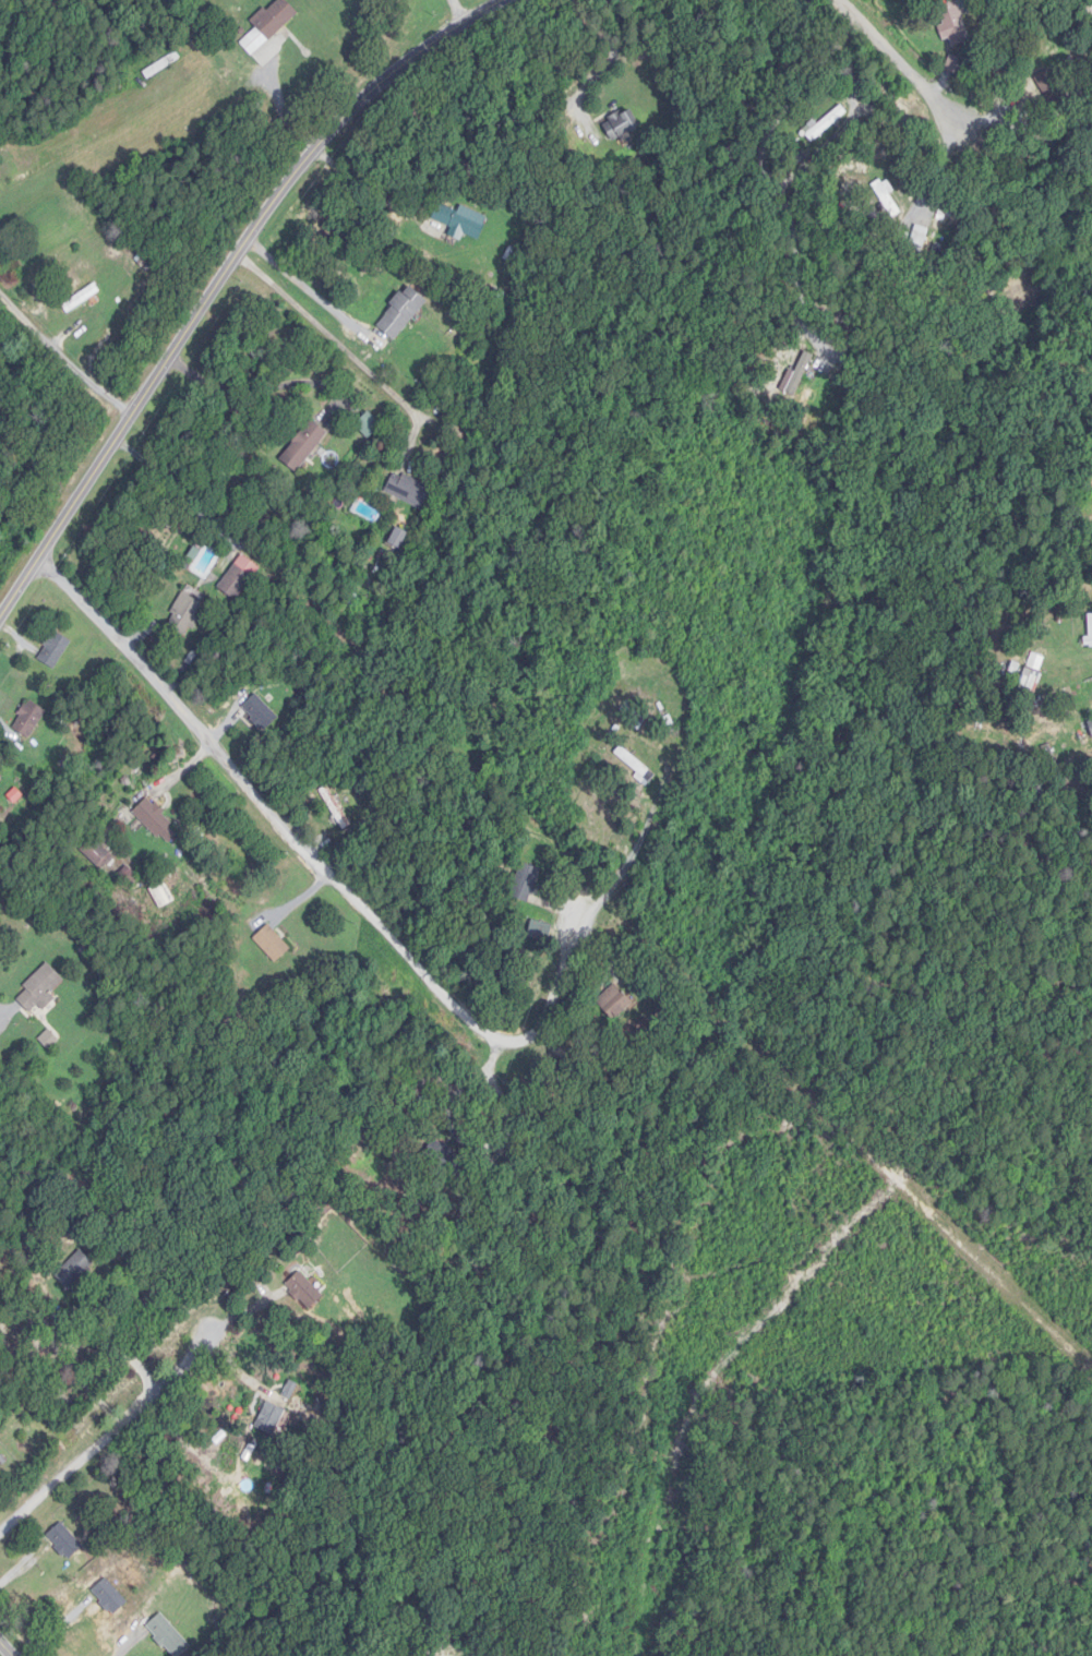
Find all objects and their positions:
road: (458, 12)
building: (956, 23)
building: (269, 25)
road: (608, 64)
road: (907, 72)
building: (1053, 91)
building: (827, 124)
building: (621, 125)
road: (771, 180)
road: (363, 184)
building: (890, 199)
building: (461, 221)
building: (920, 239)
road: (218, 283)
road: (305, 287)
building: (82, 299)
building: (401, 313)
road: (345, 348)
road: (64, 357)
road: (254, 389)
building: (369, 425)
building: (304, 447)
road: (179, 485)
building: (409, 490)
building: (239, 577)
building: (184, 614)
building: (1090, 631)
building: (55, 649)
building: (261, 712)
building: (639, 720)
building: (27, 723)
building: (1090, 727)
building: (636, 764)
building: (158, 821)
building: (96, 852)
road: (322, 867)
building: (526, 883)
building: (163, 895)
road: (905, 912)
building: (273, 943)
building: (40, 988)
building: (615, 1003)
road: (0, 1006)
building: (564, 1073)
road: (460, 1135)
building: (74, 1270)
building: (305, 1291)
road: (62, 1309)
building: (271, 1418)
road: (123, 1423)
building: (65, 1541)
building: (110, 1595)
building: (169, 1636)
road: (131, 1644)
road: (7, 1647)

